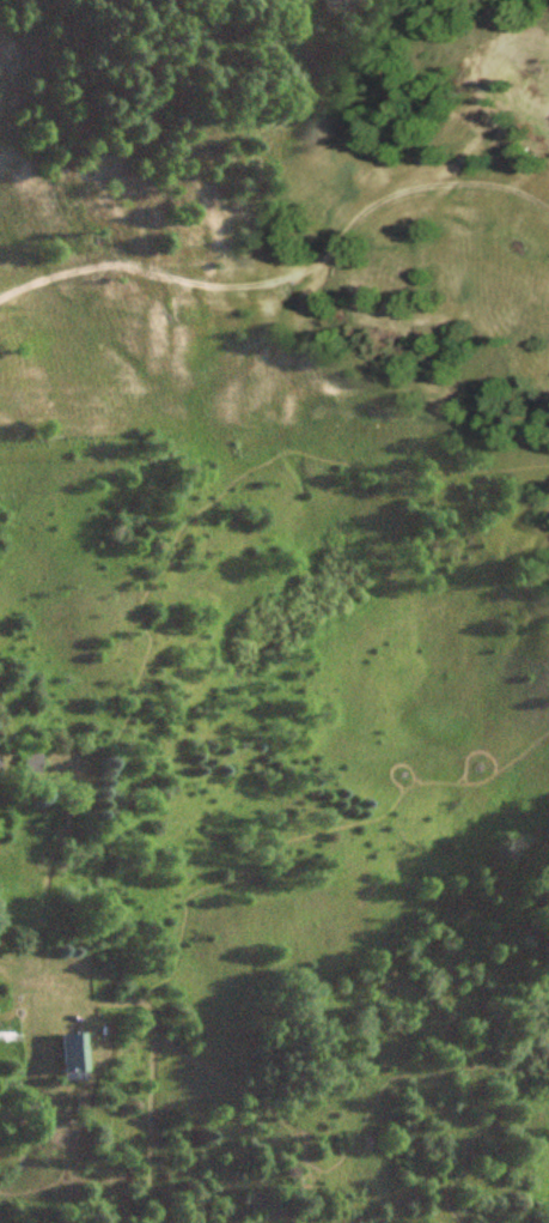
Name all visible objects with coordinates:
building: (32, 759)
building: (10, 1035)
building: (68, 1053)

